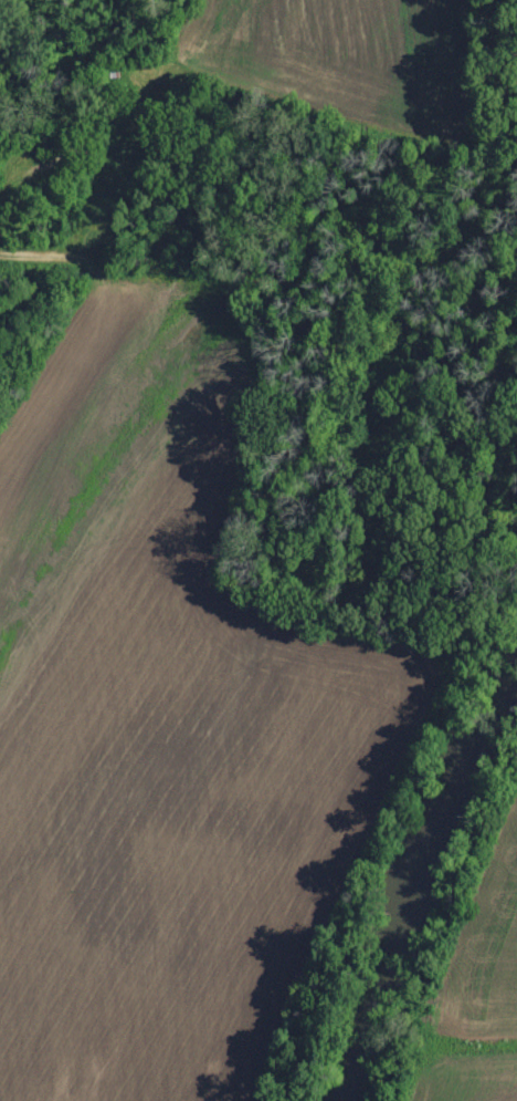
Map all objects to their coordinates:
river: (423, 889)

